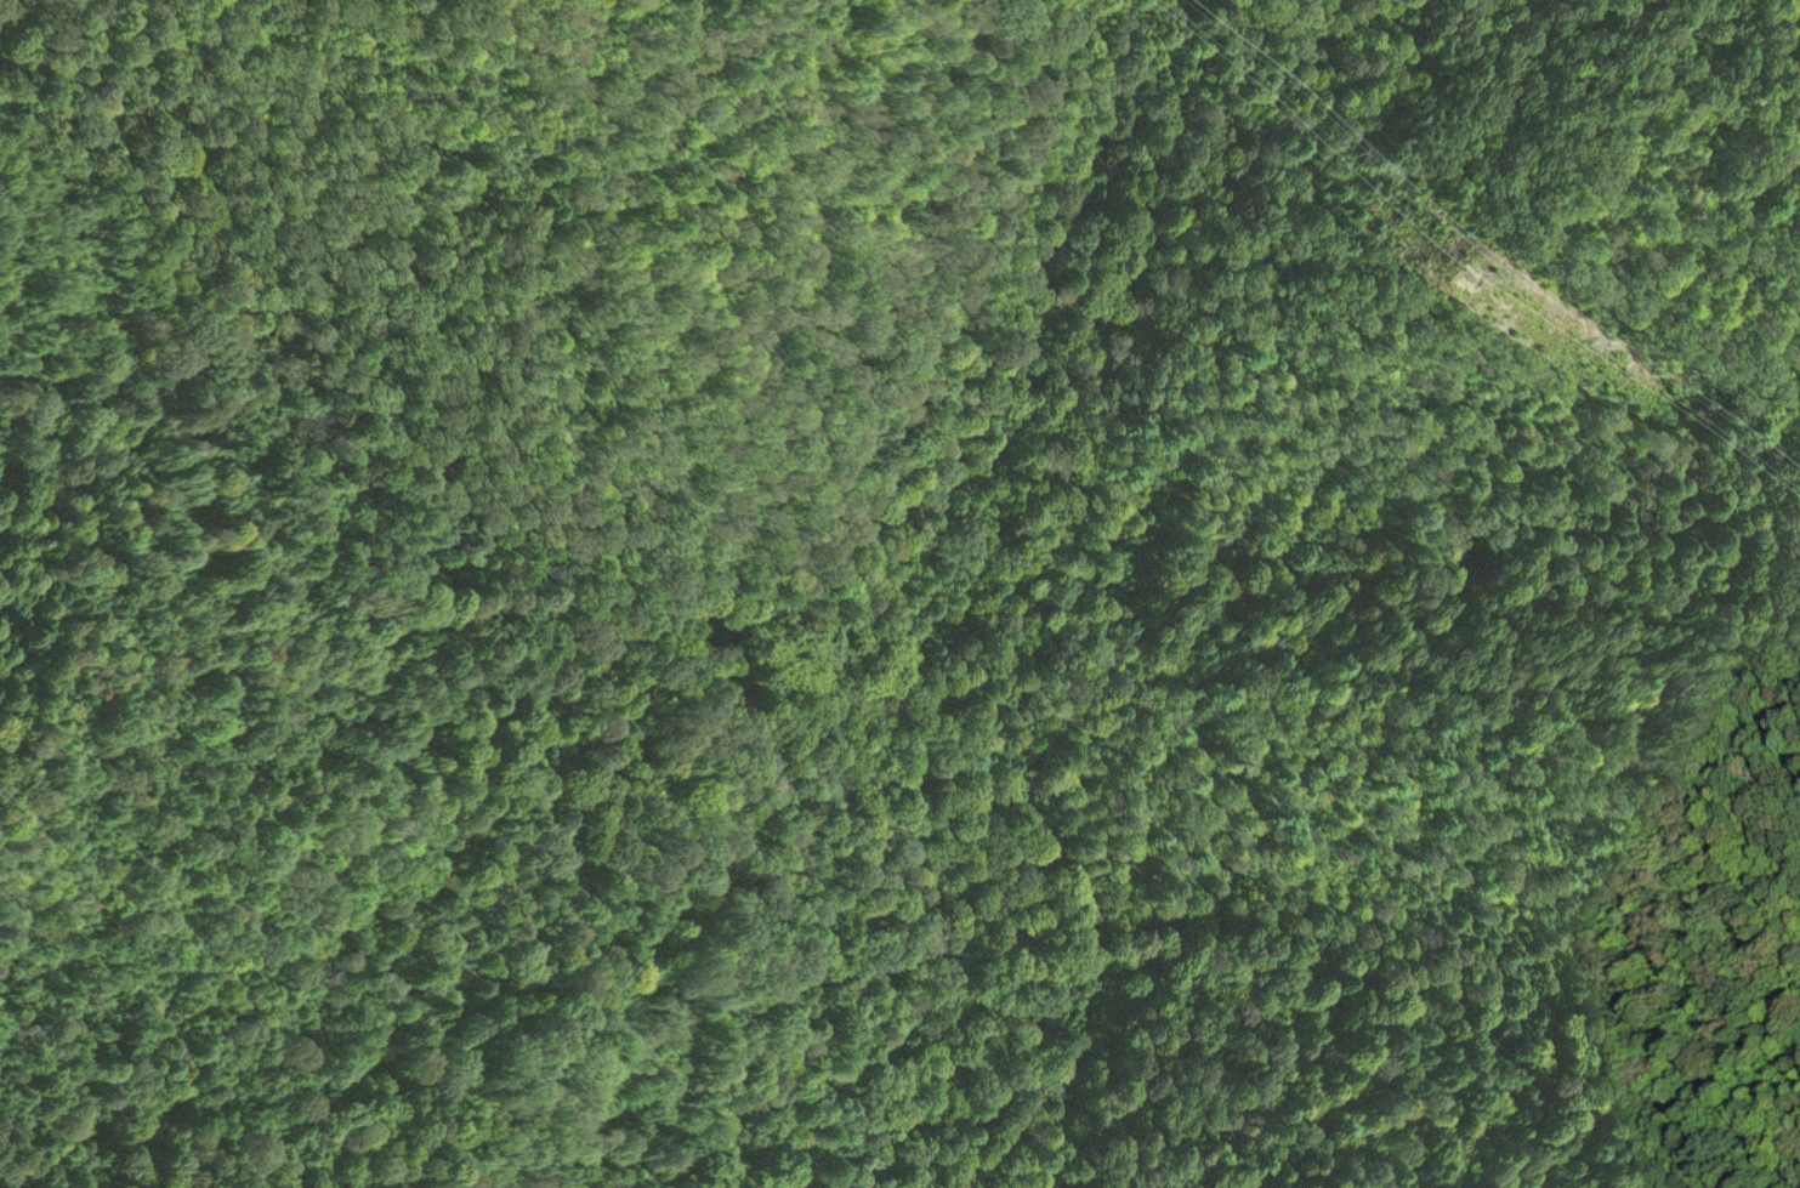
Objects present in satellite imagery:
power tower: (1463, 280)

